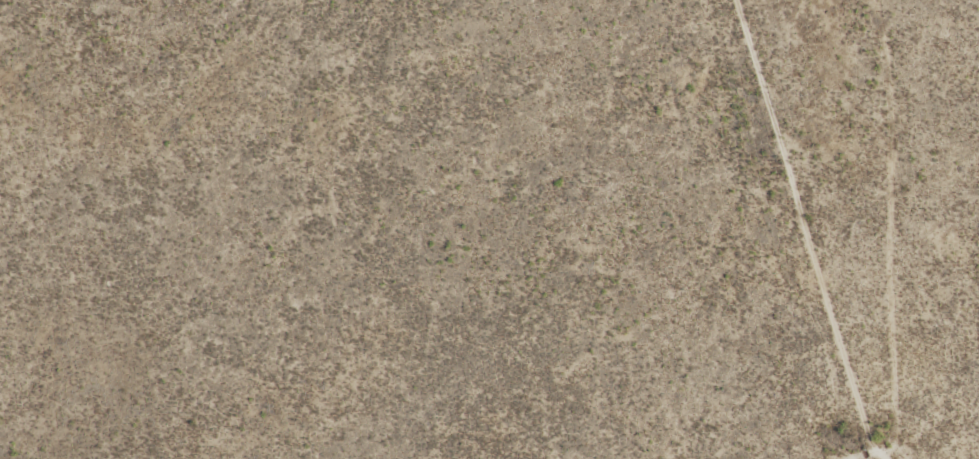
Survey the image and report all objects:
road: (762, 229)

